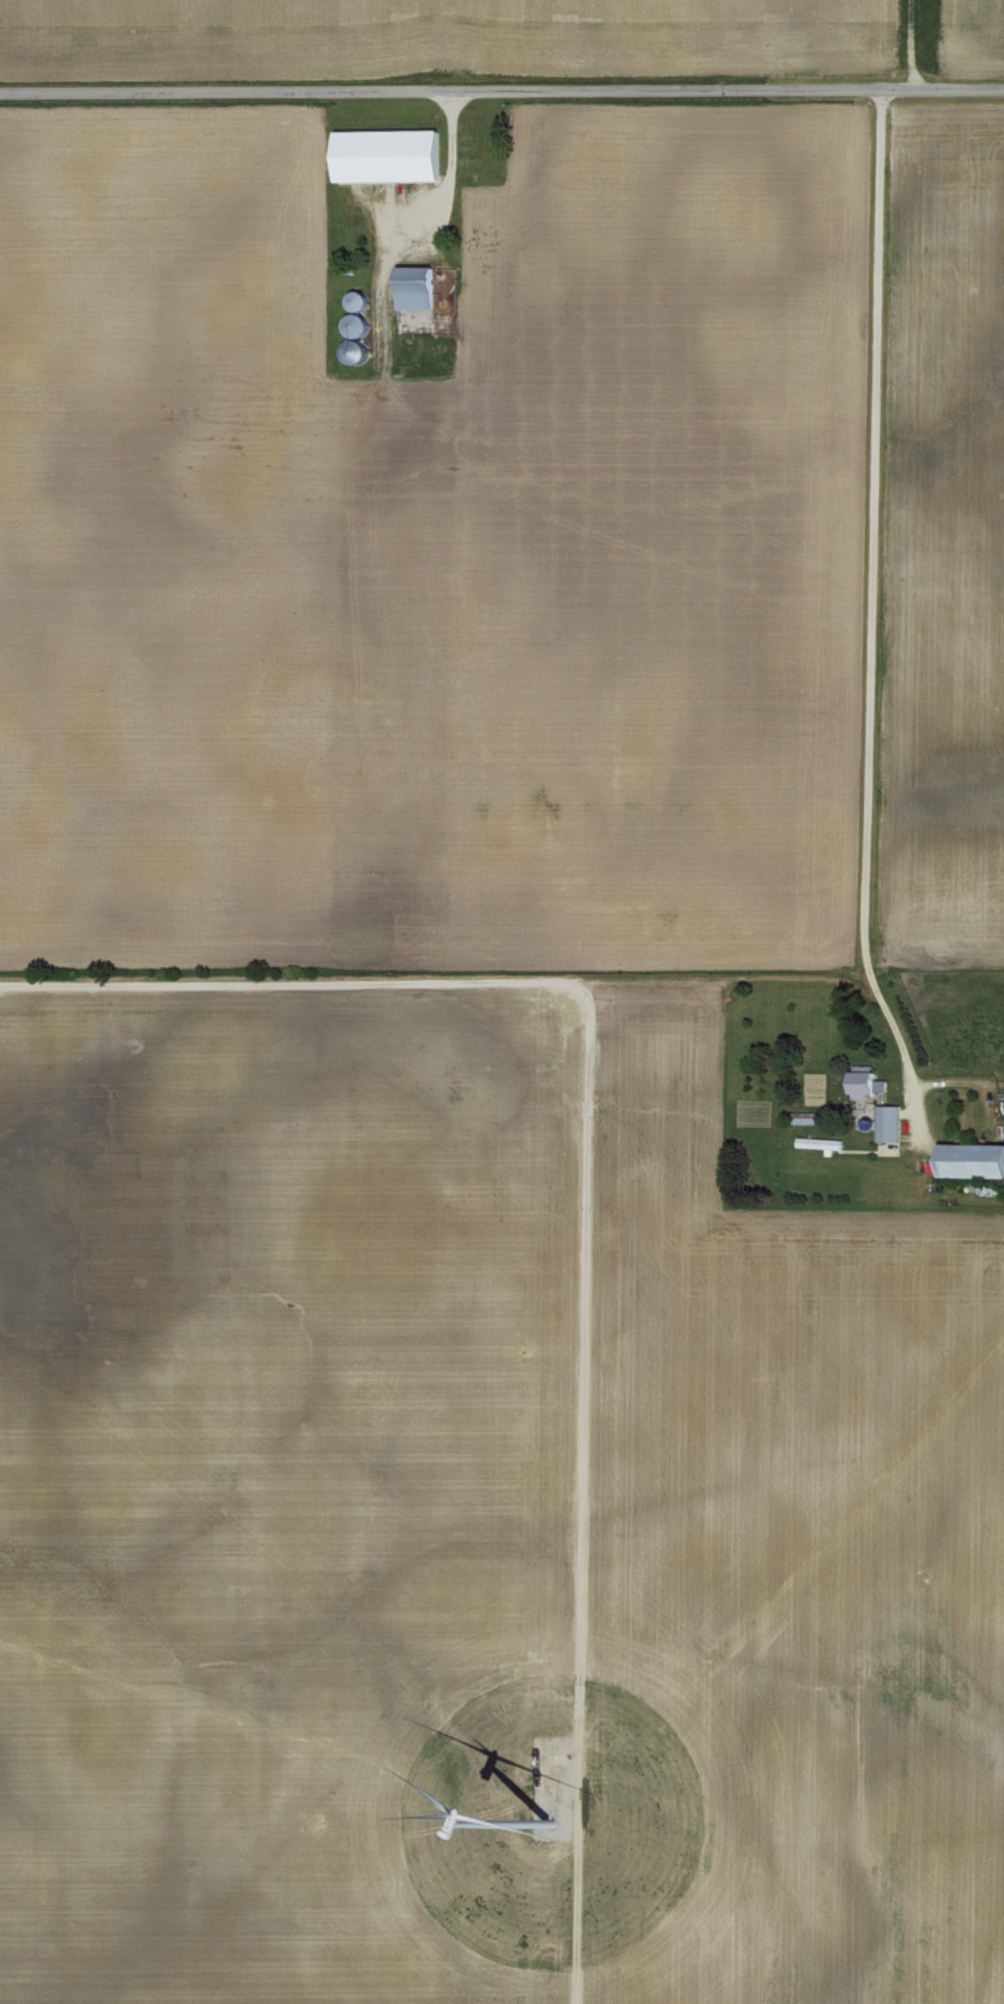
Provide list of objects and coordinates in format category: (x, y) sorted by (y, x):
road: (910, 44)
road: (502, 93)
building: (384, 155)
road: (443, 204)
building: (420, 299)
road: (868, 627)
building: (863, 1085)
building: (886, 1121)
building: (969, 1158)
road: (915, 1210)
wind turbine: (549, 1822)

